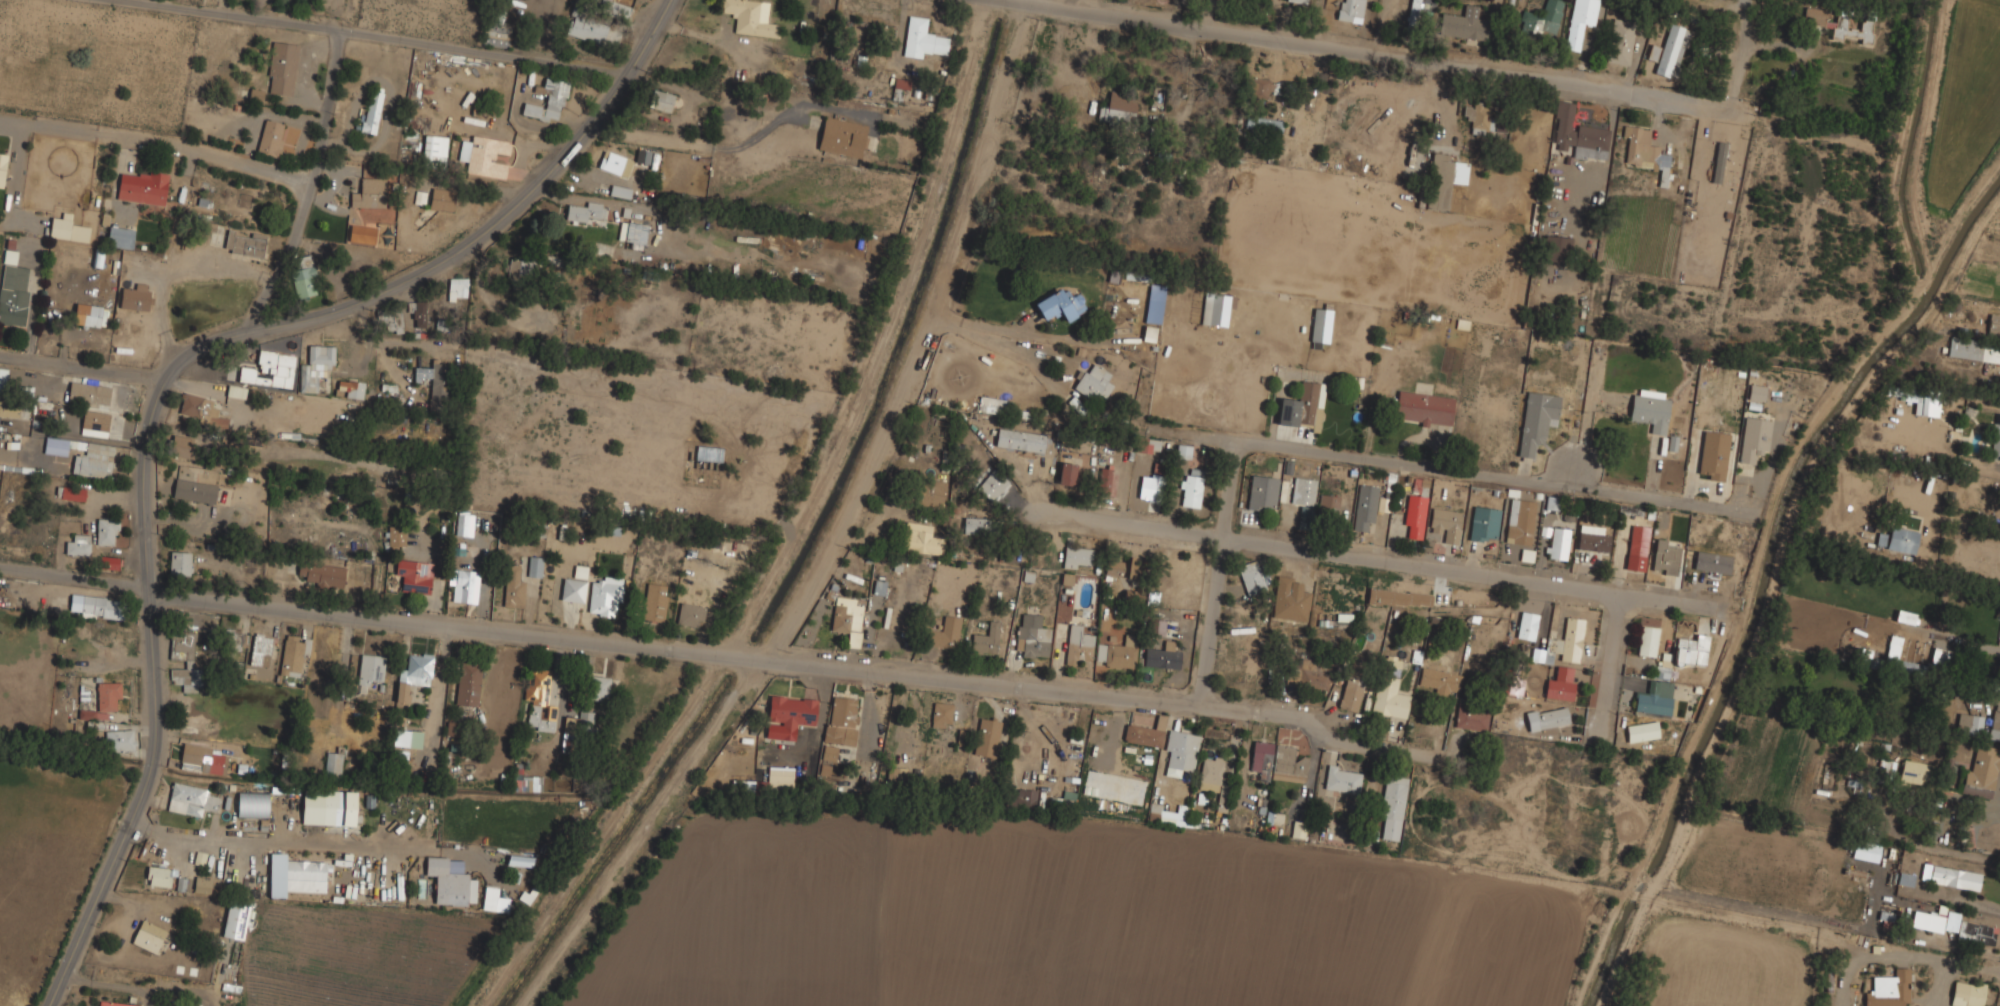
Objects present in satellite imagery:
building: (1298, 1)
building: (614, 8)
building: (1351, 10)
building: (1414, 11)
building: (749, 17)
building: (1542, 21)
building: (1580, 21)
building: (1465, 24)
building: (1840, 24)
building: (585, 28)
building: (495, 29)
road: (376, 35)
building: (922, 39)
building: (1620, 42)
building: (1672, 50)
building: (1653, 53)
road: (1417, 56)
building: (282, 68)
building: (1257, 90)
building: (548, 101)
building: (663, 101)
building: (372, 110)
building: (1118, 110)
building: (1481, 116)
building: (1263, 125)
building: (1578, 135)
building: (271, 137)
building: (842, 137)
road: (157, 138)
building: (434, 148)
building: (1645, 152)
building: (484, 156)
building: (643, 156)
building: (615, 163)
building: (1718, 163)
building: (2, 169)
building: (1443, 180)
building: (142, 186)
road: (307, 190)
building: (370, 193)
building: (442, 200)
building: (584, 212)
building: (67, 227)
building: (361, 234)
building: (633, 234)
building: (120, 237)
building: (244, 242)
building: (1557, 246)
building: (520, 268)
building: (304, 276)
building: (13, 288)
building: (457, 288)
building: (135, 297)
building: (1061, 305)
building: (1155, 305)
building: (1214, 310)
building: (418, 313)
building: (90, 315)
building: (390, 321)
building: (1993, 324)
building: (1149, 334)
road: (877, 335)
building: (1974, 349)
building: (315, 367)
road: (82, 368)
building: (270, 370)
road: (166, 376)
building: (1092, 383)
building: (436, 384)
building: (350, 389)
building: (88, 391)
building: (1756, 393)
building: (1926, 405)
building: (994, 406)
building: (1303, 407)
building: (9, 408)
building: (1423, 408)
building: (1651, 410)
building: (202, 411)
building: (41, 413)
building: (1537, 421)
building: (94, 422)
road: (1192, 435)
building: (1995, 437)
road: (1584, 439)
building: (1754, 439)
building: (1020, 440)
building: (55, 445)
building: (1144, 445)
building: (181, 446)
building: (1714, 455)
building: (93, 460)
road: (1444, 470)
building: (1067, 474)
building: (1104, 481)
building: (992, 484)
building: (194, 491)
building: (1191, 491)
building: (69, 492)
building: (1303, 492)
building: (1262, 493)
building: (929, 494)
building: (1329, 504)
building: (1365, 507)
building: (1415, 516)
building: (1521, 521)
road: (1978, 523)
building: (464, 524)
building: (1484, 524)
building: (1446, 525)
building: (977, 526)
building: (106, 531)
building: (396, 536)
building: (920, 539)
building: (1593, 539)
building: (1880, 539)
building: (1901, 539)
building: (1558, 543)
building: (77, 545)
building: (1637, 547)
road: (1330, 554)
building: (1665, 556)
building: (1076, 557)
building: (1712, 561)
building: (179, 563)
building: (535, 567)
building: (1121, 567)
building: (322, 575)
building: (415, 576)
building: (1251, 576)
building: (464, 585)
building: (879, 587)
building: (514, 588)
building: (573, 590)
building: (604, 596)
road: (1679, 597)
building: (1399, 598)
building: (654, 602)
building: (102, 607)
road: (1619, 611)
building: (690, 615)
road: (363, 616)
building: (1904, 616)
building: (847, 619)
road: (1210, 620)
building: (1526, 624)
building: (944, 634)
building: (1999, 635)
building: (1032, 637)
building: (1572, 639)
building: (232, 640)
building: (986, 640)
building: (1647, 640)
building: (1078, 645)
building: (1693, 645)
building: (260, 650)
building: (1117, 653)
building: (293, 655)
building: (1941, 657)
building: (1162, 658)
building: (1901, 661)
building: (184, 662)
building: (370, 668)
building: (1307, 672)
building: (1659, 672)
building: (413, 673)
road: (1608, 675)
building: (1436, 680)
building: (537, 683)
building: (468, 684)
building: (1997, 684)
building: (1353, 686)
building: (598, 687)
road: (1082, 689)
building: (1558, 689)
building: (1389, 697)
building: (103, 700)
building: (1654, 703)
building: (791, 711)
building: (941, 714)
building: (541, 716)
building: (1546, 717)
building: (585, 719)
building: (1471, 719)
building: (842, 720)
building: (1969, 723)
building: (1994, 723)
building: (1645, 731)
building: (1145, 732)
building: (987, 736)
building: (401, 738)
building: (120, 739)
building: (1180, 750)
building: (830, 755)
building: (203, 758)
building: (1277, 761)
building: (332, 764)
building: (1981, 770)
building: (1914, 772)
building: (1342, 778)
building: (1213, 779)
building: (767, 782)
building: (525, 783)
building: (191, 798)
building: (1021, 798)
building: (1064, 801)
building: (253, 805)
building: (328, 806)
building: (1391, 807)
building: (1174, 816)
road: (604, 829)
building: (1865, 851)
building: (491, 855)
crop: (50, 856)
building: (518, 863)
building: (306, 874)
building: (158, 875)
building: (1954, 877)
building: (1905, 878)
building: (274, 881)
building: (450, 882)
building: (202, 884)
road: (149, 898)
building: (494, 901)
building: (235, 919)
building: (1951, 921)
building: (1930, 922)
building: (1975, 932)
building: (148, 936)
building: (1889, 989)
building: (1969, 995)
building: (116, 1003)

